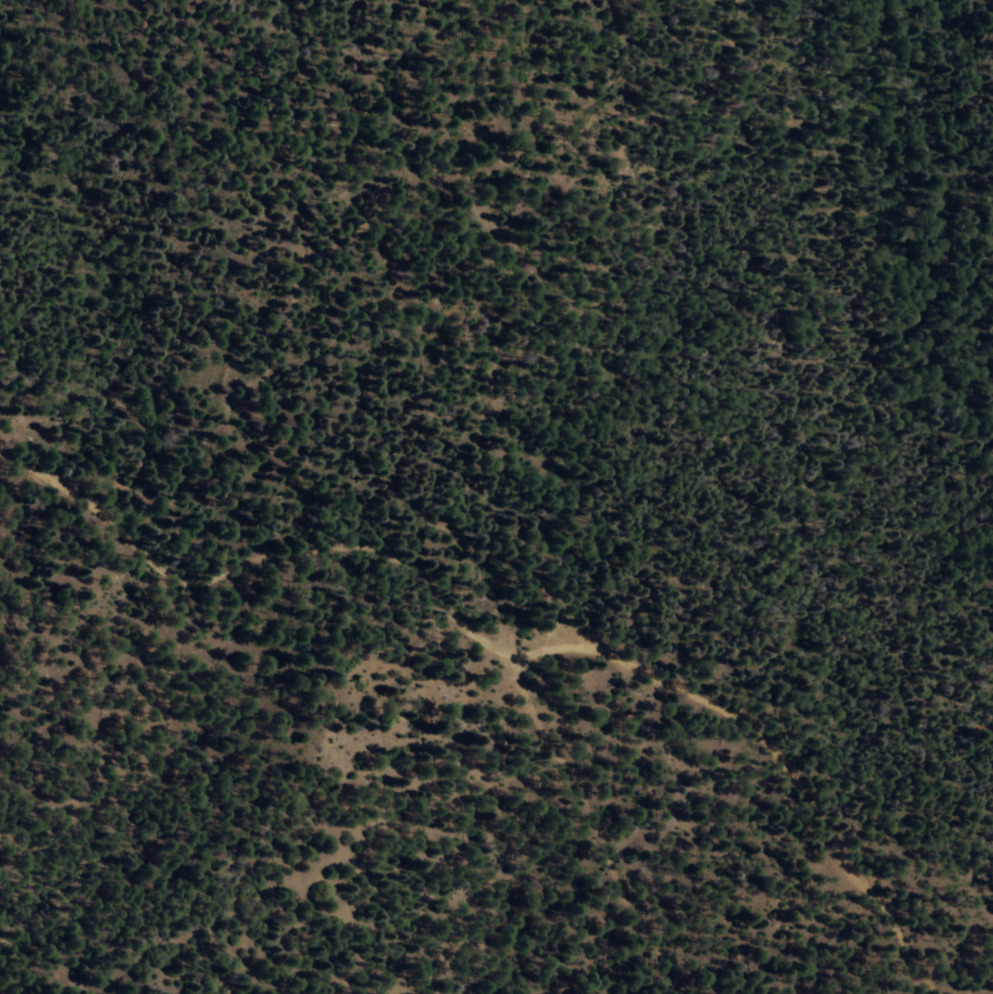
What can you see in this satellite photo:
road: (525, 623)

